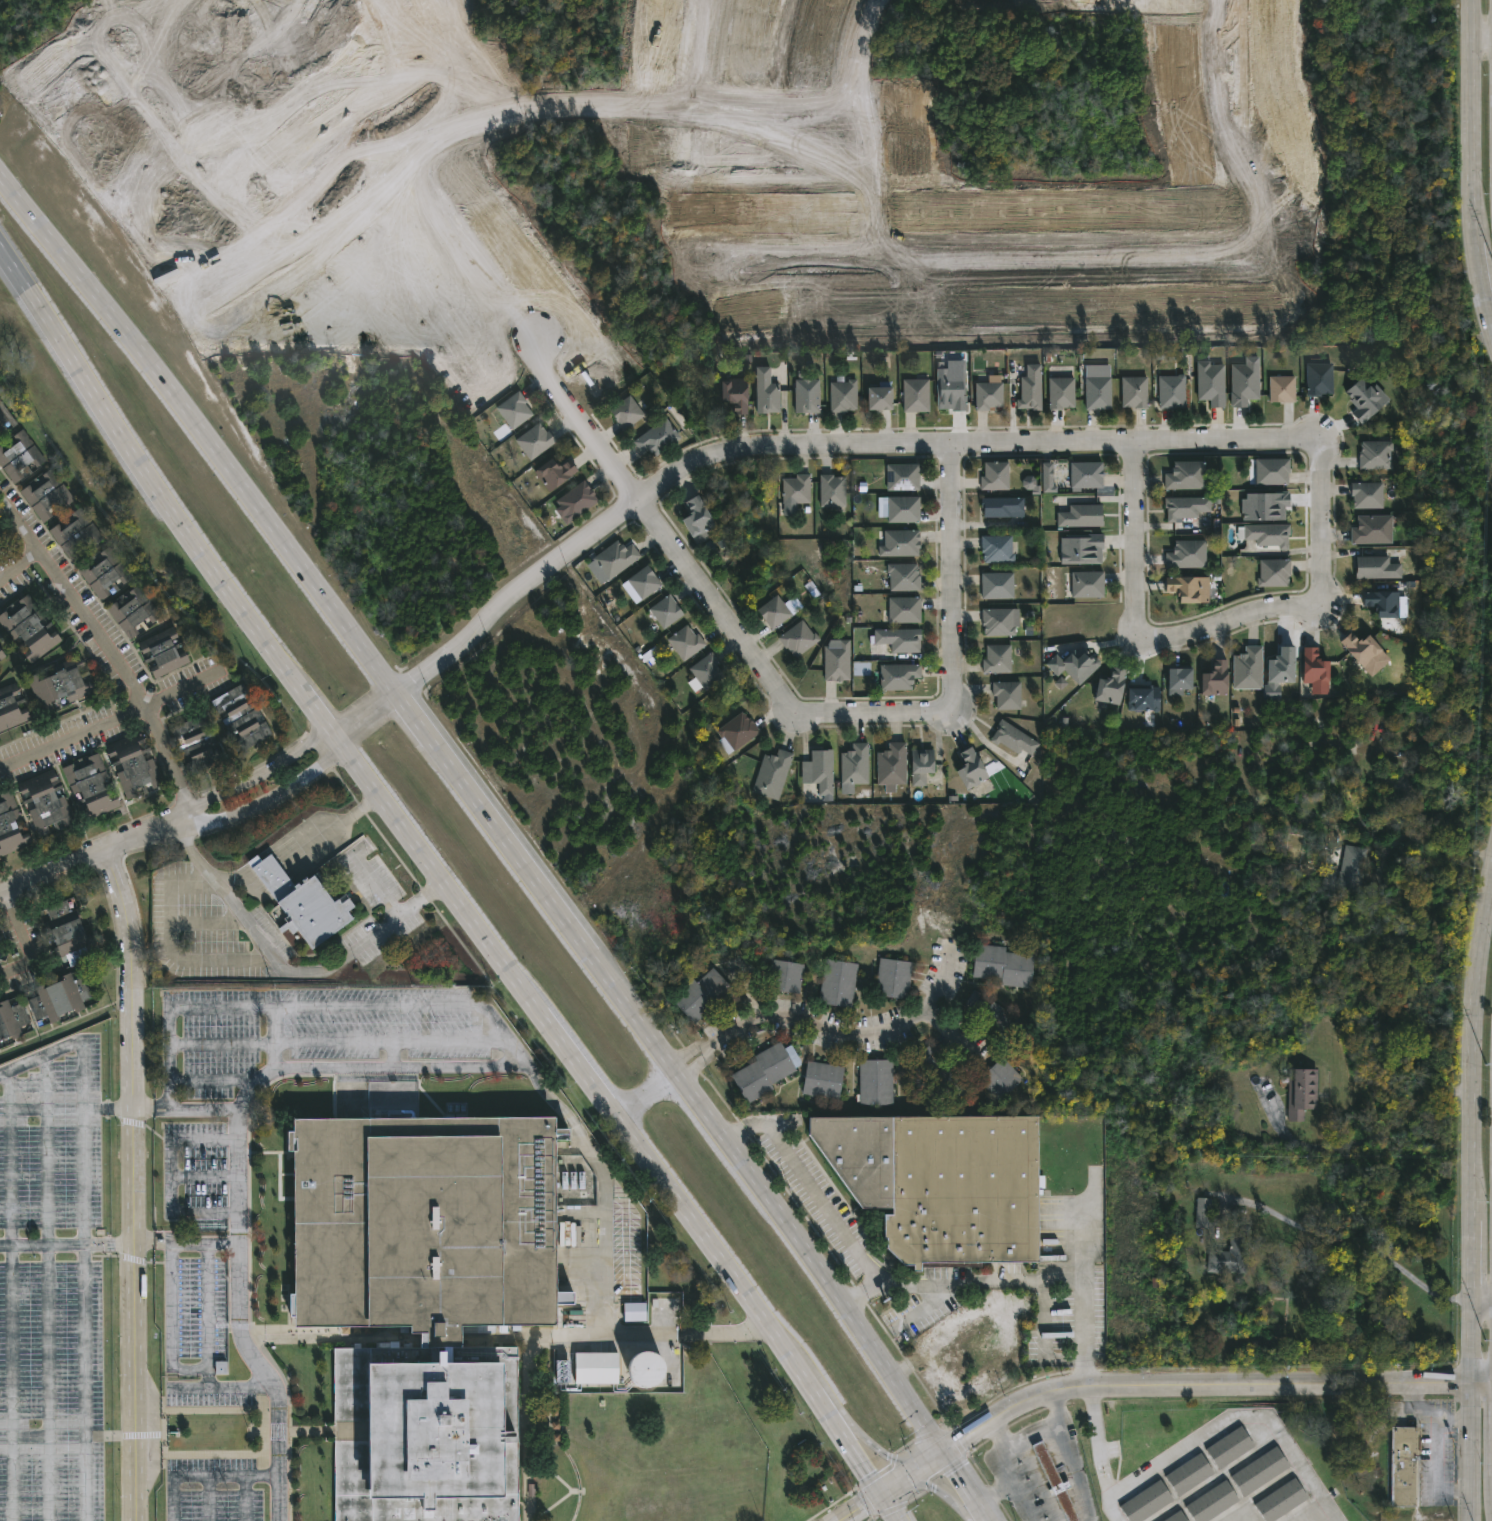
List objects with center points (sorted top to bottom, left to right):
road: (1482, 39)
road: (1474, 161)
building: (1319, 378)
building: (1244, 382)
building: (1211, 383)
building: (951, 385)
building: (1030, 388)
building: (1282, 388)
building: (765, 391)
building: (1098, 391)
building: (1134, 391)
building: (1172, 391)
building: (1060, 392)
building: (734, 393)
building: (987, 394)
building: (843, 395)
building: (878, 395)
building: (915, 395)
building: (807, 399)
building: (1365, 399)
building: (513, 409)
building: (625, 411)
building: (4, 419)
building: (656, 436)
building: (534, 439)
road: (817, 446)
building: (18, 454)
building: (1375, 454)
building: (1272, 470)
building: (553, 471)
building: (1086, 474)
building: (994, 475)
building: (1185, 475)
building: (902, 476)
building: (1047, 477)
building: (1030, 484)
building: (796, 489)
building: (831, 489)
building: (45, 493)
building: (1367, 494)
building: (575, 500)
building: (1000, 506)
building: (1185, 506)
building: (1264, 506)
building: (902, 508)
building: (1081, 515)
building: (695, 516)
road: (1318, 520)
road: (18, 524)
road: (660, 527)
building: (1372, 529)
building: (74, 533)
building: (1268, 534)
road: (1131, 535)
building: (2, 539)
building: (899, 542)
building: (1, 545)
building: (996, 548)
building: (1081, 550)
building: (1186, 553)
building: (615, 557)
building: (1377, 567)
building: (1274, 571)
building: (102, 572)
building: (903, 576)
road: (951, 577)
building: (642, 581)
building: (1087, 583)
building: (996, 585)
building: (1188, 588)
building: (1387, 602)
building: (903, 609)
building: (132, 610)
building: (665, 611)
building: (774, 611)
road: (1225, 618)
building: (997, 621)
building: (28, 628)
building: (797, 638)
building: (899, 639)
building: (685, 642)
building: (1361, 647)
building: (161, 652)
building: (1, 655)
road: (112, 658)
building: (836, 659)
building: (995, 659)
building: (1074, 665)
building: (1314, 666)
building: (862, 668)
building: (1248, 668)
building: (706, 671)
building: (1279, 672)
building: (898, 675)
building: (1214, 678)
building: (1179, 680)
building: (59, 683)
building: (1060, 683)
building: (1110, 686)
building: (1006, 694)
building: (1143, 699)
building: (10, 708)
road: (876, 713)
building: (240, 716)
road: (98, 720)
building: (737, 730)
building: (1012, 739)
building: (195, 743)
building: (855, 764)
building: (132, 765)
building: (891, 766)
building: (920, 766)
building: (970, 769)
building: (822, 770)
building: (772, 774)
building: (89, 786)
road: (259, 789)
building: (44, 802)
road: (483, 807)
building: (10, 826)
road: (328, 828)
road: (1427, 838)
road: (263, 868)
building: (1353, 869)
road: (50, 870)
road: (236, 880)
road: (450, 883)
building: (301, 903)
building: (65, 933)
road: (23, 939)
building: (1002, 965)
road: (292, 971)
building: (784, 975)
building: (893, 979)
building: (837, 983)
building: (702, 995)
building: (58, 997)
road: (383, 1003)
road: (178, 1006)
building: (998, 1018)
building: (11, 1020)
road: (949, 1024)
road: (863, 1031)
road: (503, 1033)
road: (274, 1037)
road: (338, 1041)
road: (690, 1051)
road: (394, 1054)
road: (697, 1061)
building: (765, 1070)
building: (938, 1075)
building: (1001, 1079)
road: (212, 1080)
building: (822, 1080)
building: (875, 1082)
road: (540, 1085)
road: (649, 1091)
building: (1302, 1093)
road: (83, 1095)
road: (109, 1108)
road: (1469, 1123)
road: (1364, 1139)
road: (204, 1175)
road: (171, 1177)
road: (134, 1182)
building: (941, 1182)
road: (808, 1185)
building: (1203, 1211)
road: (1082, 1234)
road: (110, 1241)
road: (186, 1241)
road: (1348, 1243)
road: (43, 1244)
building: (1231, 1250)
road: (1059, 1265)
road: (48, 1288)
road: (942, 1293)
building: (428, 1295)
road: (11, 1296)
road: (1481, 1306)
building: (634, 1310)
road: (922, 1311)
road: (209, 1314)
road: (240, 1320)
road: (171, 1321)
road: (1085, 1325)
road: (545, 1335)
road: (1047, 1336)
road: (87, 1339)
building: (983, 1345)
building: (640, 1365)
building: (594, 1366)
road: (1137, 1384)
road: (1481, 1384)
road: (220, 1386)
road: (1419, 1405)
road: (1227, 1418)
road: (1002, 1435)
road: (112, 1436)
road: (1098, 1441)
building: (1229, 1446)
road: (1006, 1448)
road: (1470, 1452)
traffic signals: (944, 1453)
road: (1436, 1454)
building: (1405, 1465)
road: (1077, 1467)
building: (1260, 1470)
building: (1189, 1473)
road: (203, 1475)
road: (89, 1478)
building: (1054, 1481)
road: (965, 1486)
traffic signals: (883, 1493)
road: (994, 1493)
road: (209, 1498)
road: (246, 1498)
building: (1281, 1500)
building: (1146, 1501)
building: (1212, 1501)
road: (1070, 1514)
building: (1177, 1517)
road: (1062, 1519)

